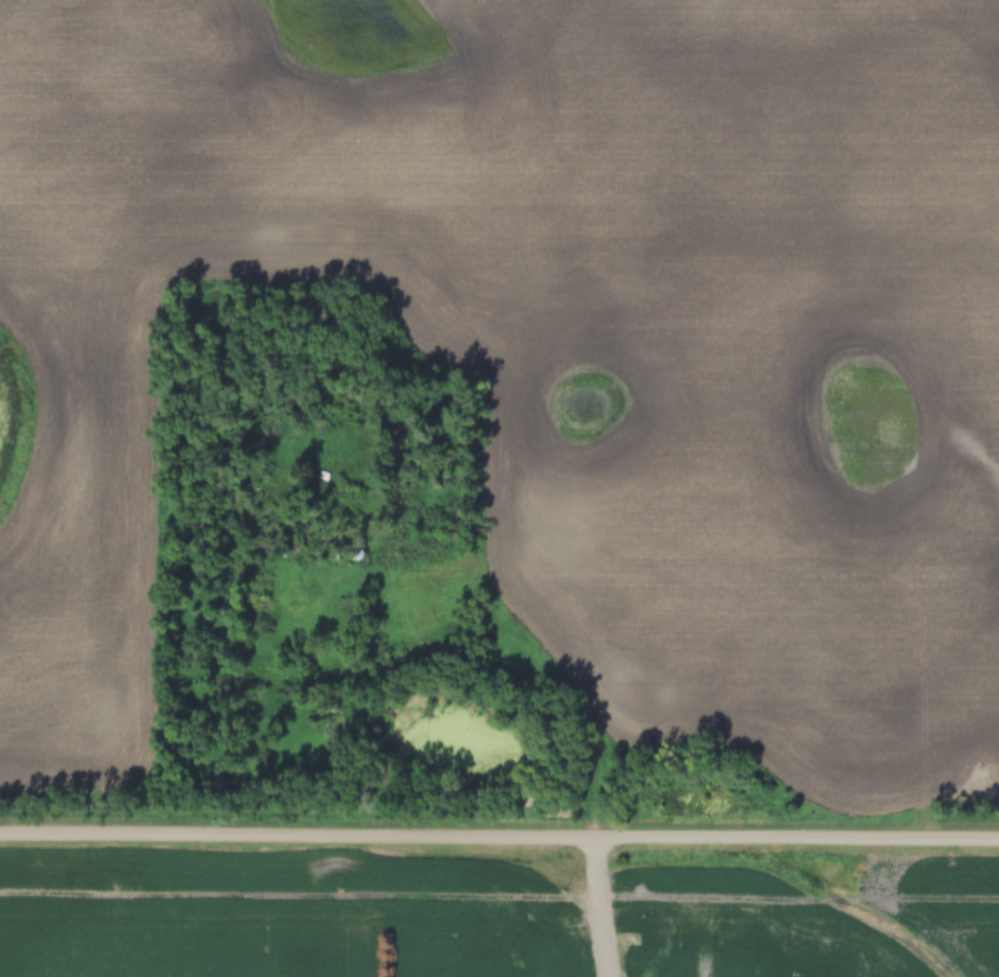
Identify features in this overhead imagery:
road: (513, 614)
road: (499, 838)

